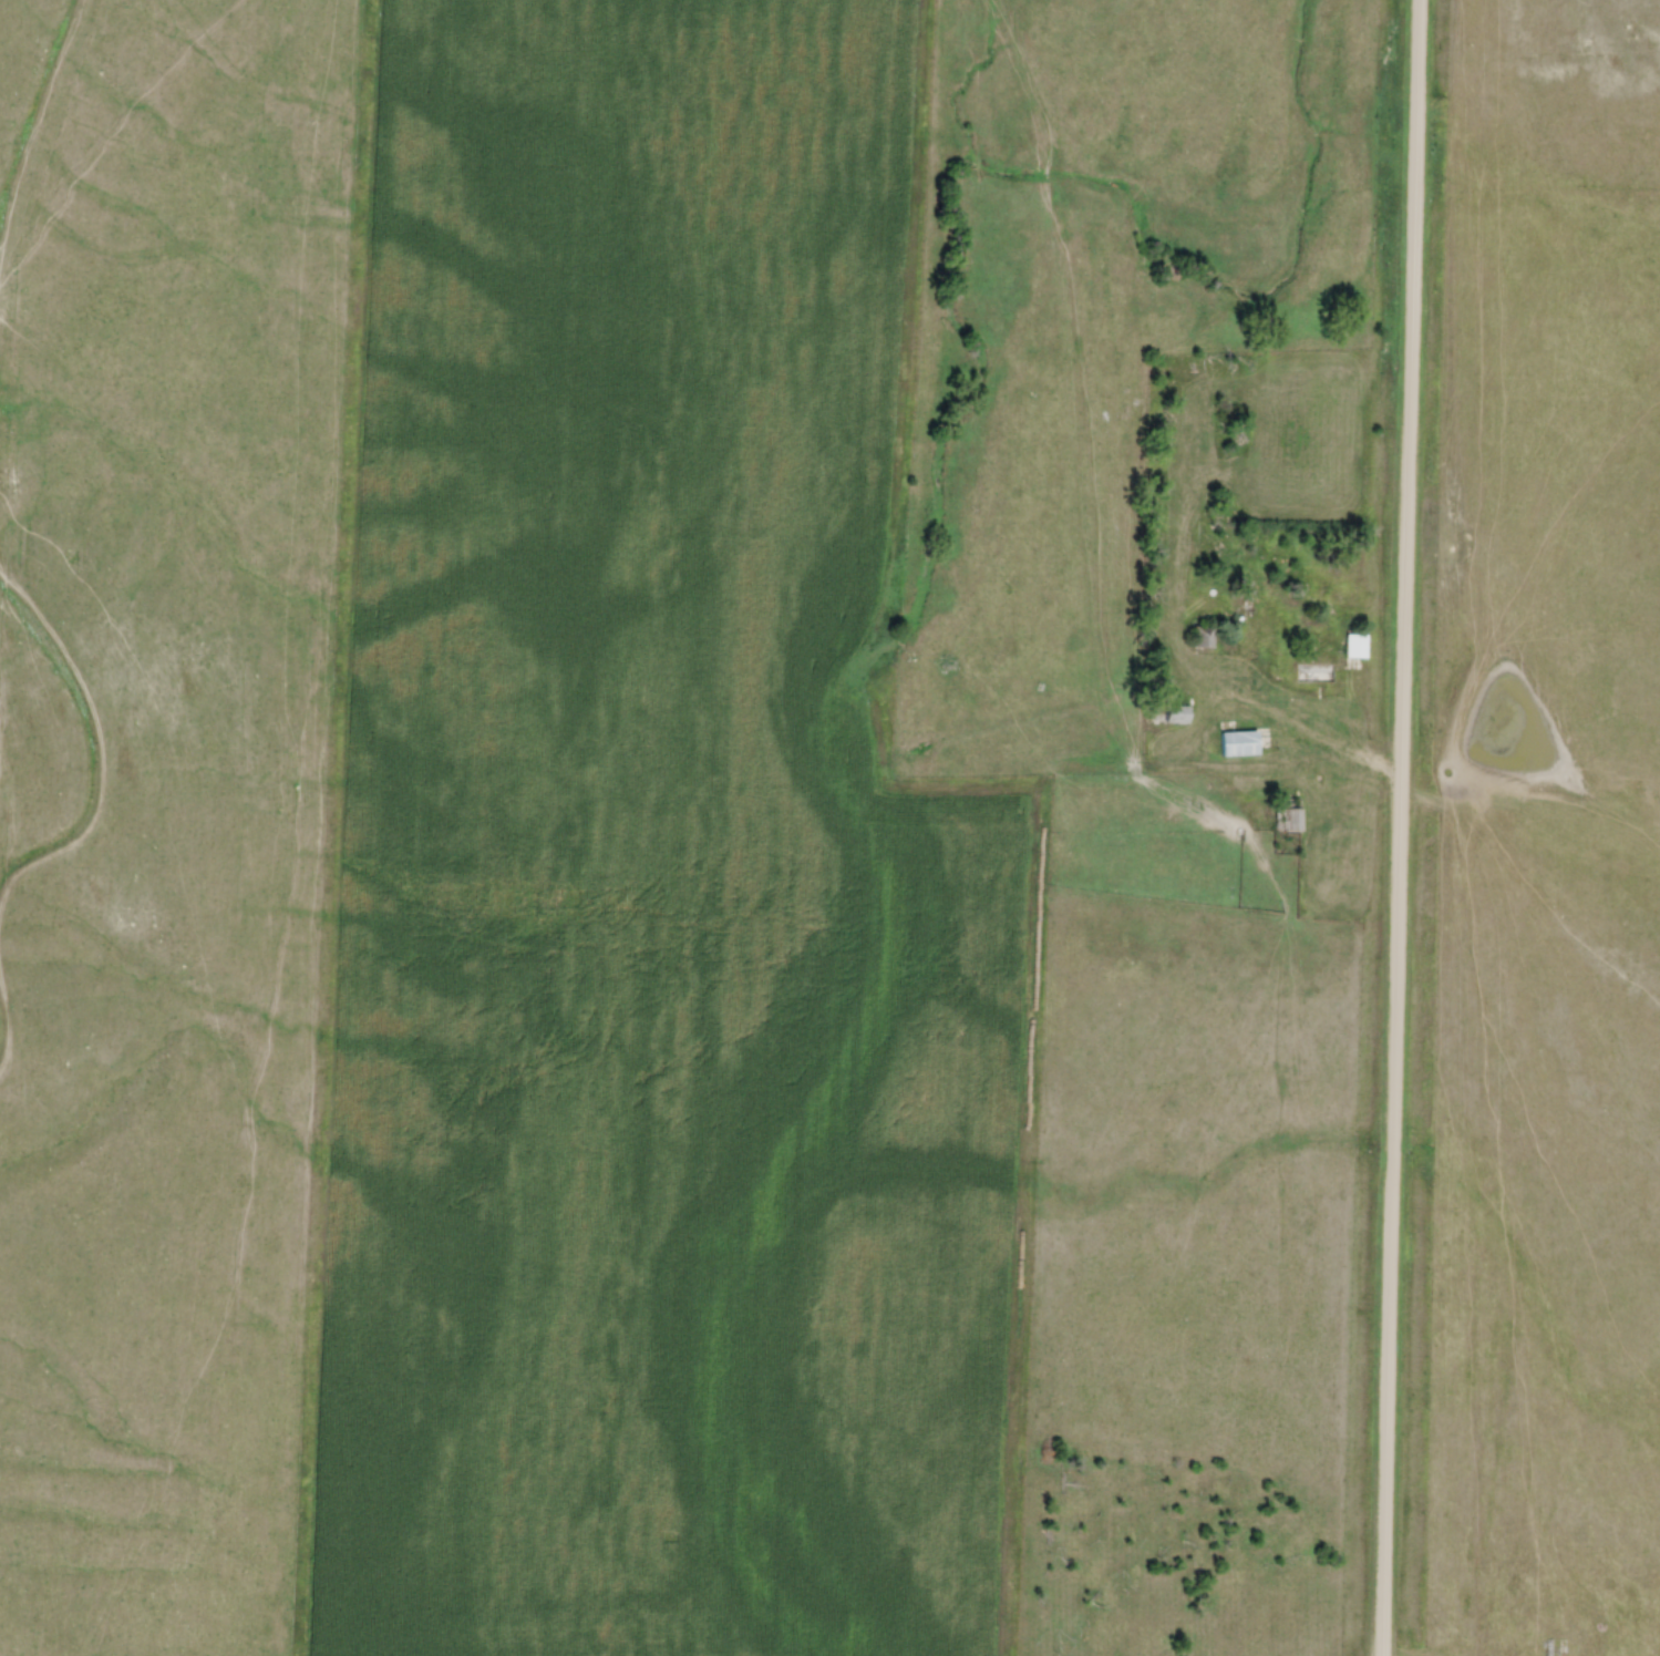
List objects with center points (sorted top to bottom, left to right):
building: (1206, 639)
building: (1354, 647)
building: (1313, 675)
building: (1238, 744)
road: (1399, 827)

